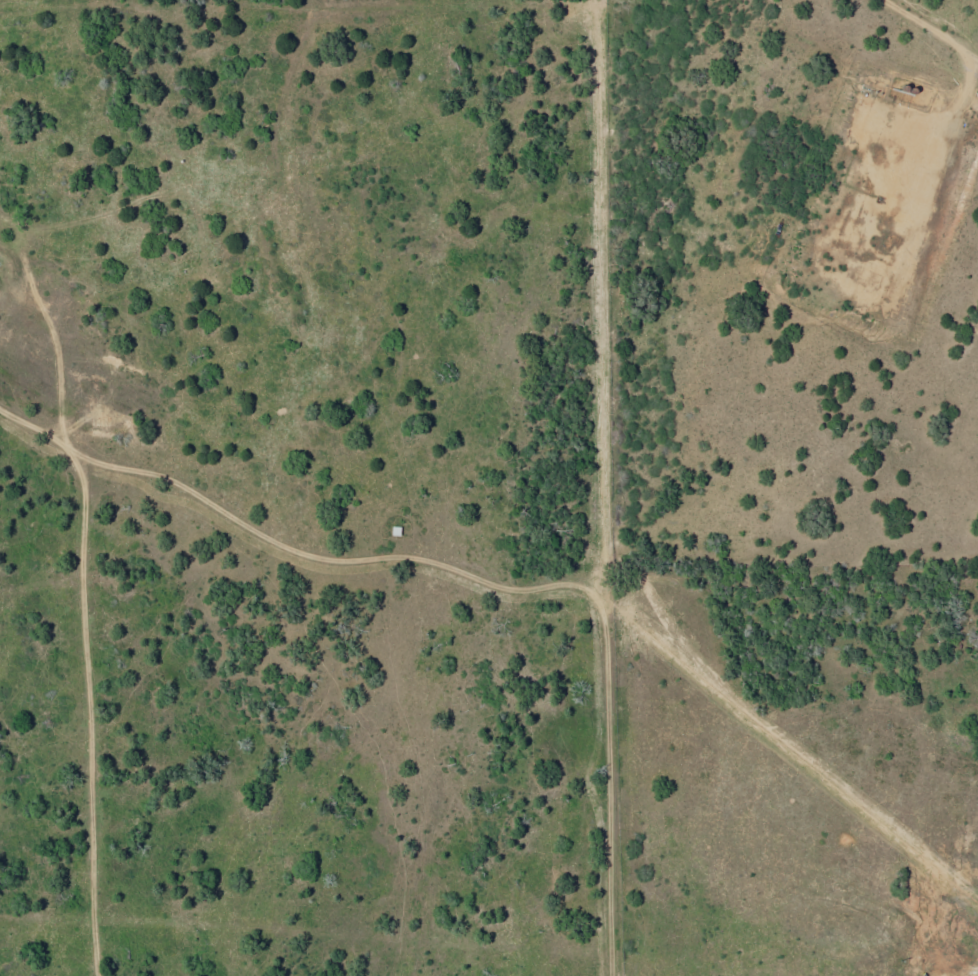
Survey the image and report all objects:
road: (927, 27)

